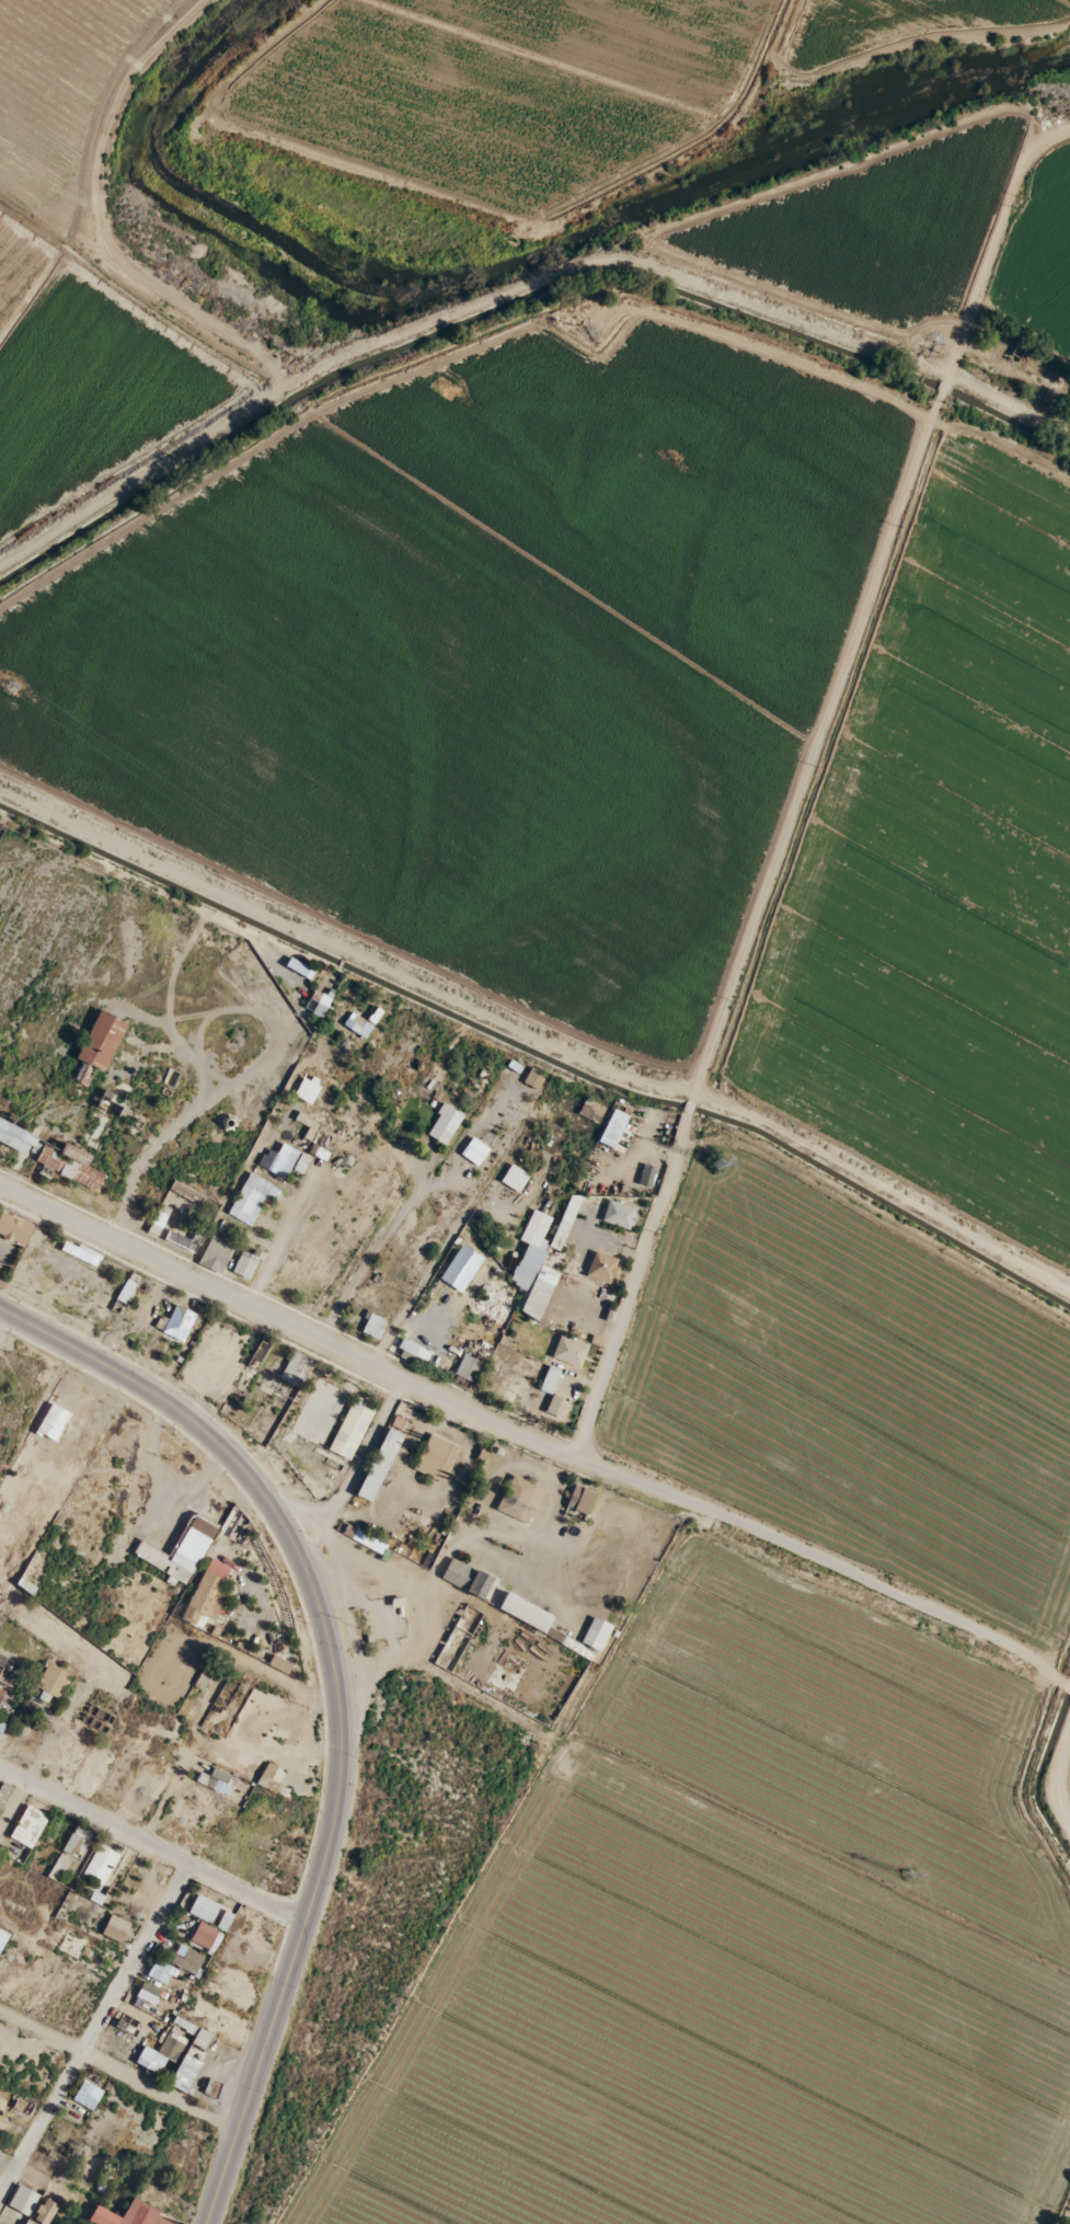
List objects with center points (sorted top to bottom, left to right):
road: (343, 948)
road: (198, 1062)
road: (240, 1068)
road: (686, 1097)
road: (683, 1104)
road: (628, 1165)
road: (401, 1206)
road: (285, 1238)
road: (439, 1241)
road: (624, 1282)
road: (2, 1315)
road: (364, 1361)
road: (105, 1365)
road: (349, 1464)
road: (312, 1532)
road: (906, 1597)
road: (386, 1639)
road: (11, 1797)
road: (325, 1820)
road: (149, 1843)
road: (92, 2021)
road: (114, 2068)

